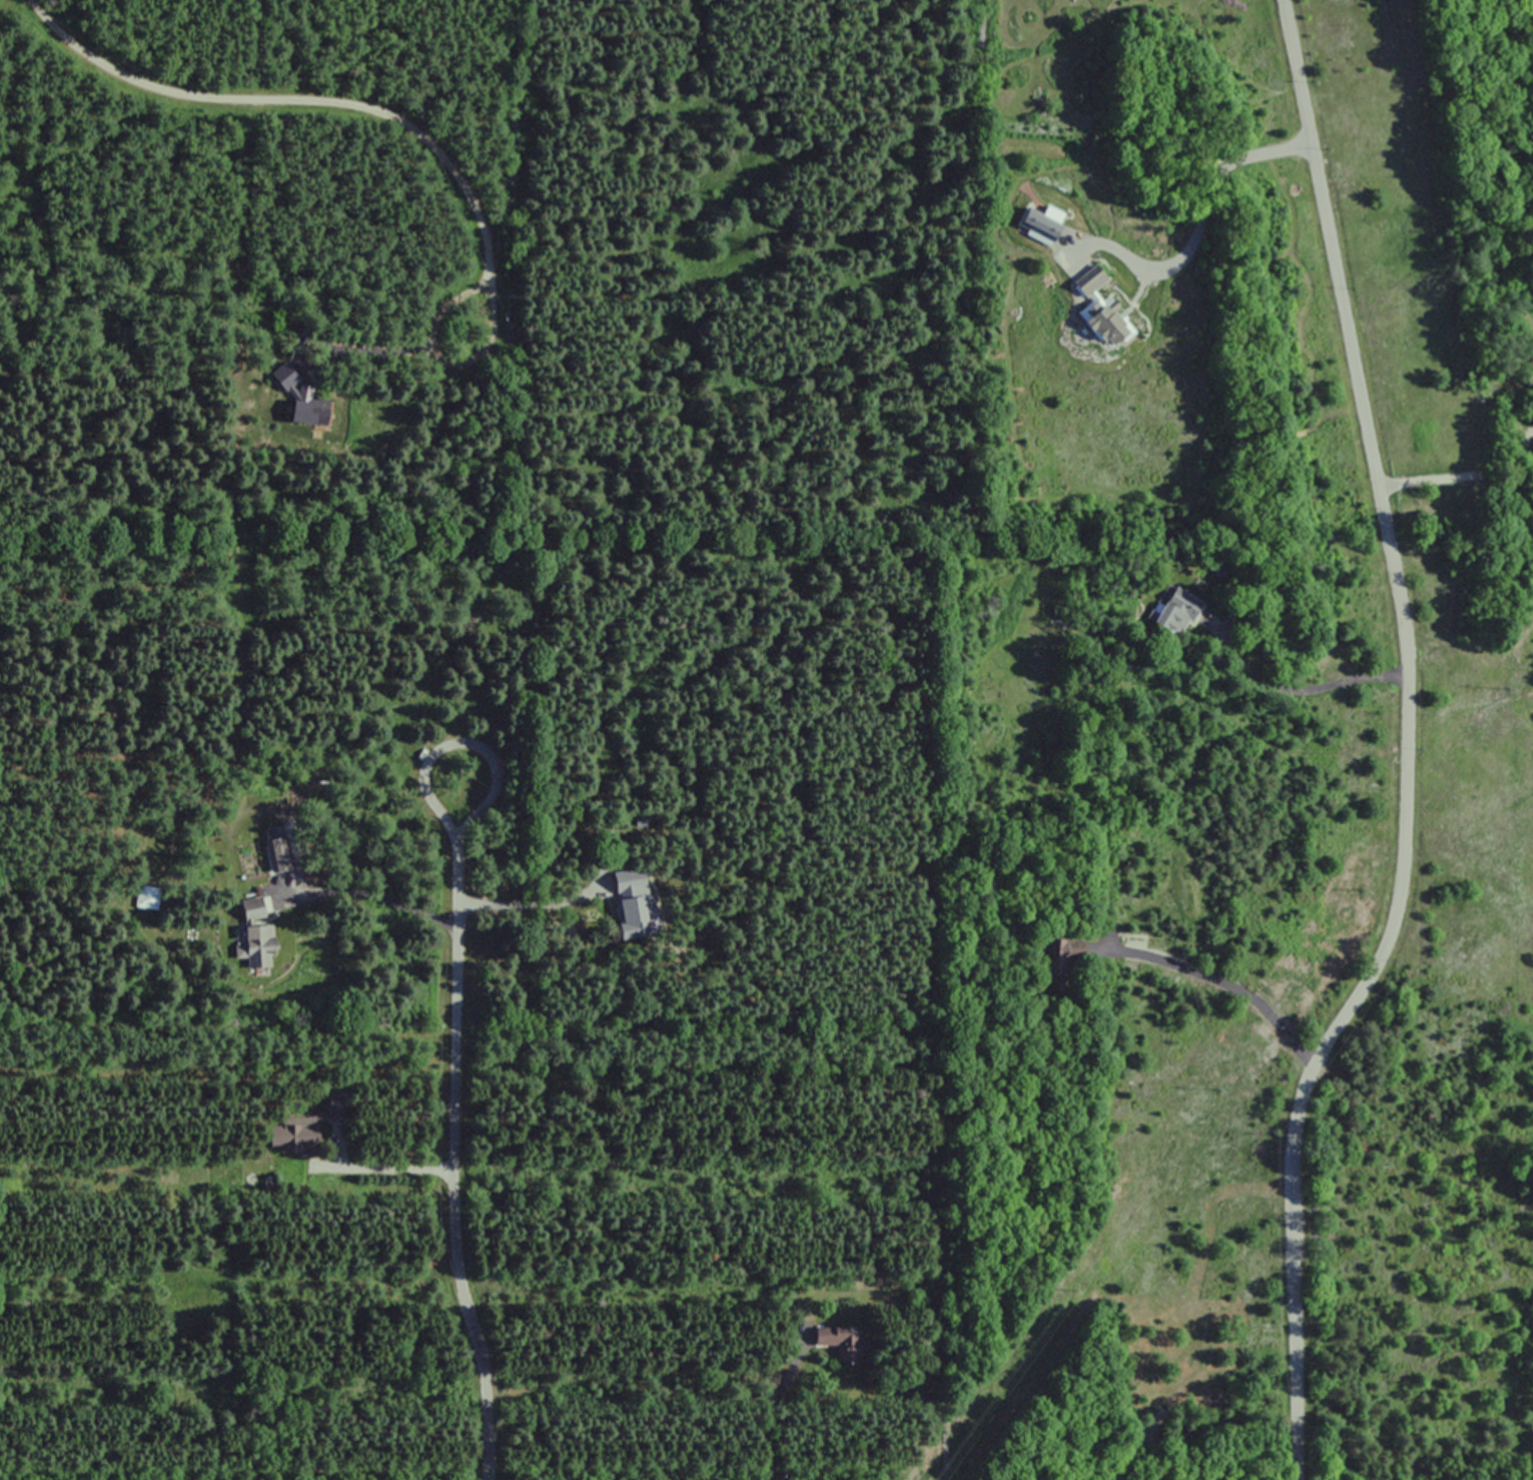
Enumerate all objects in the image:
road: (412, 132)
road: (438, 314)
road: (374, 336)
building: (301, 413)
road: (1463, 474)
building: (1175, 611)
power tower: (1507, 687)
road: (1304, 691)
road: (465, 740)
road: (1408, 746)
power tower: (1363, 890)
road: (370, 894)
building: (627, 902)
road: (530, 904)
building: (254, 945)
building: (1065, 949)
road: (1229, 980)
power tower: (1214, 1087)
road: (454, 1161)
road: (388, 1167)
power tower: (1069, 1292)
building: (839, 1341)
road: (771, 1406)

